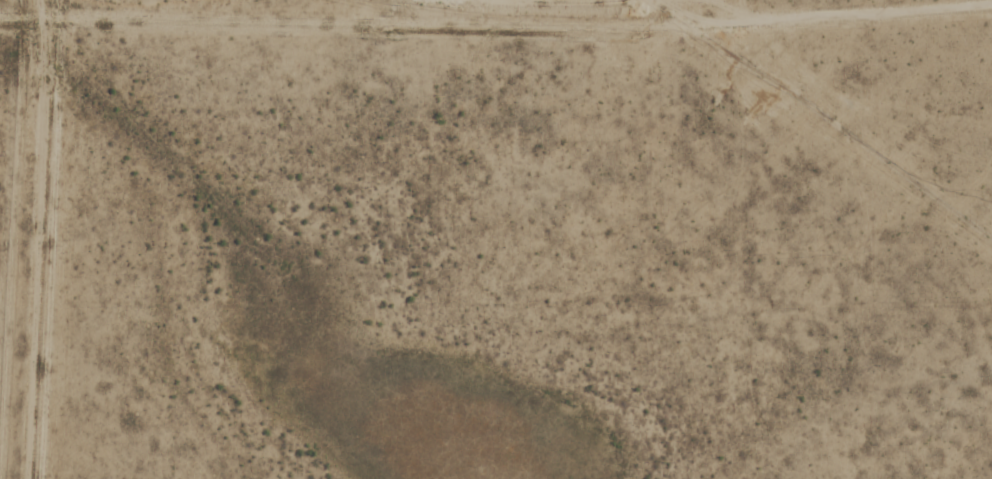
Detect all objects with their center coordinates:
road: (823, 14)

